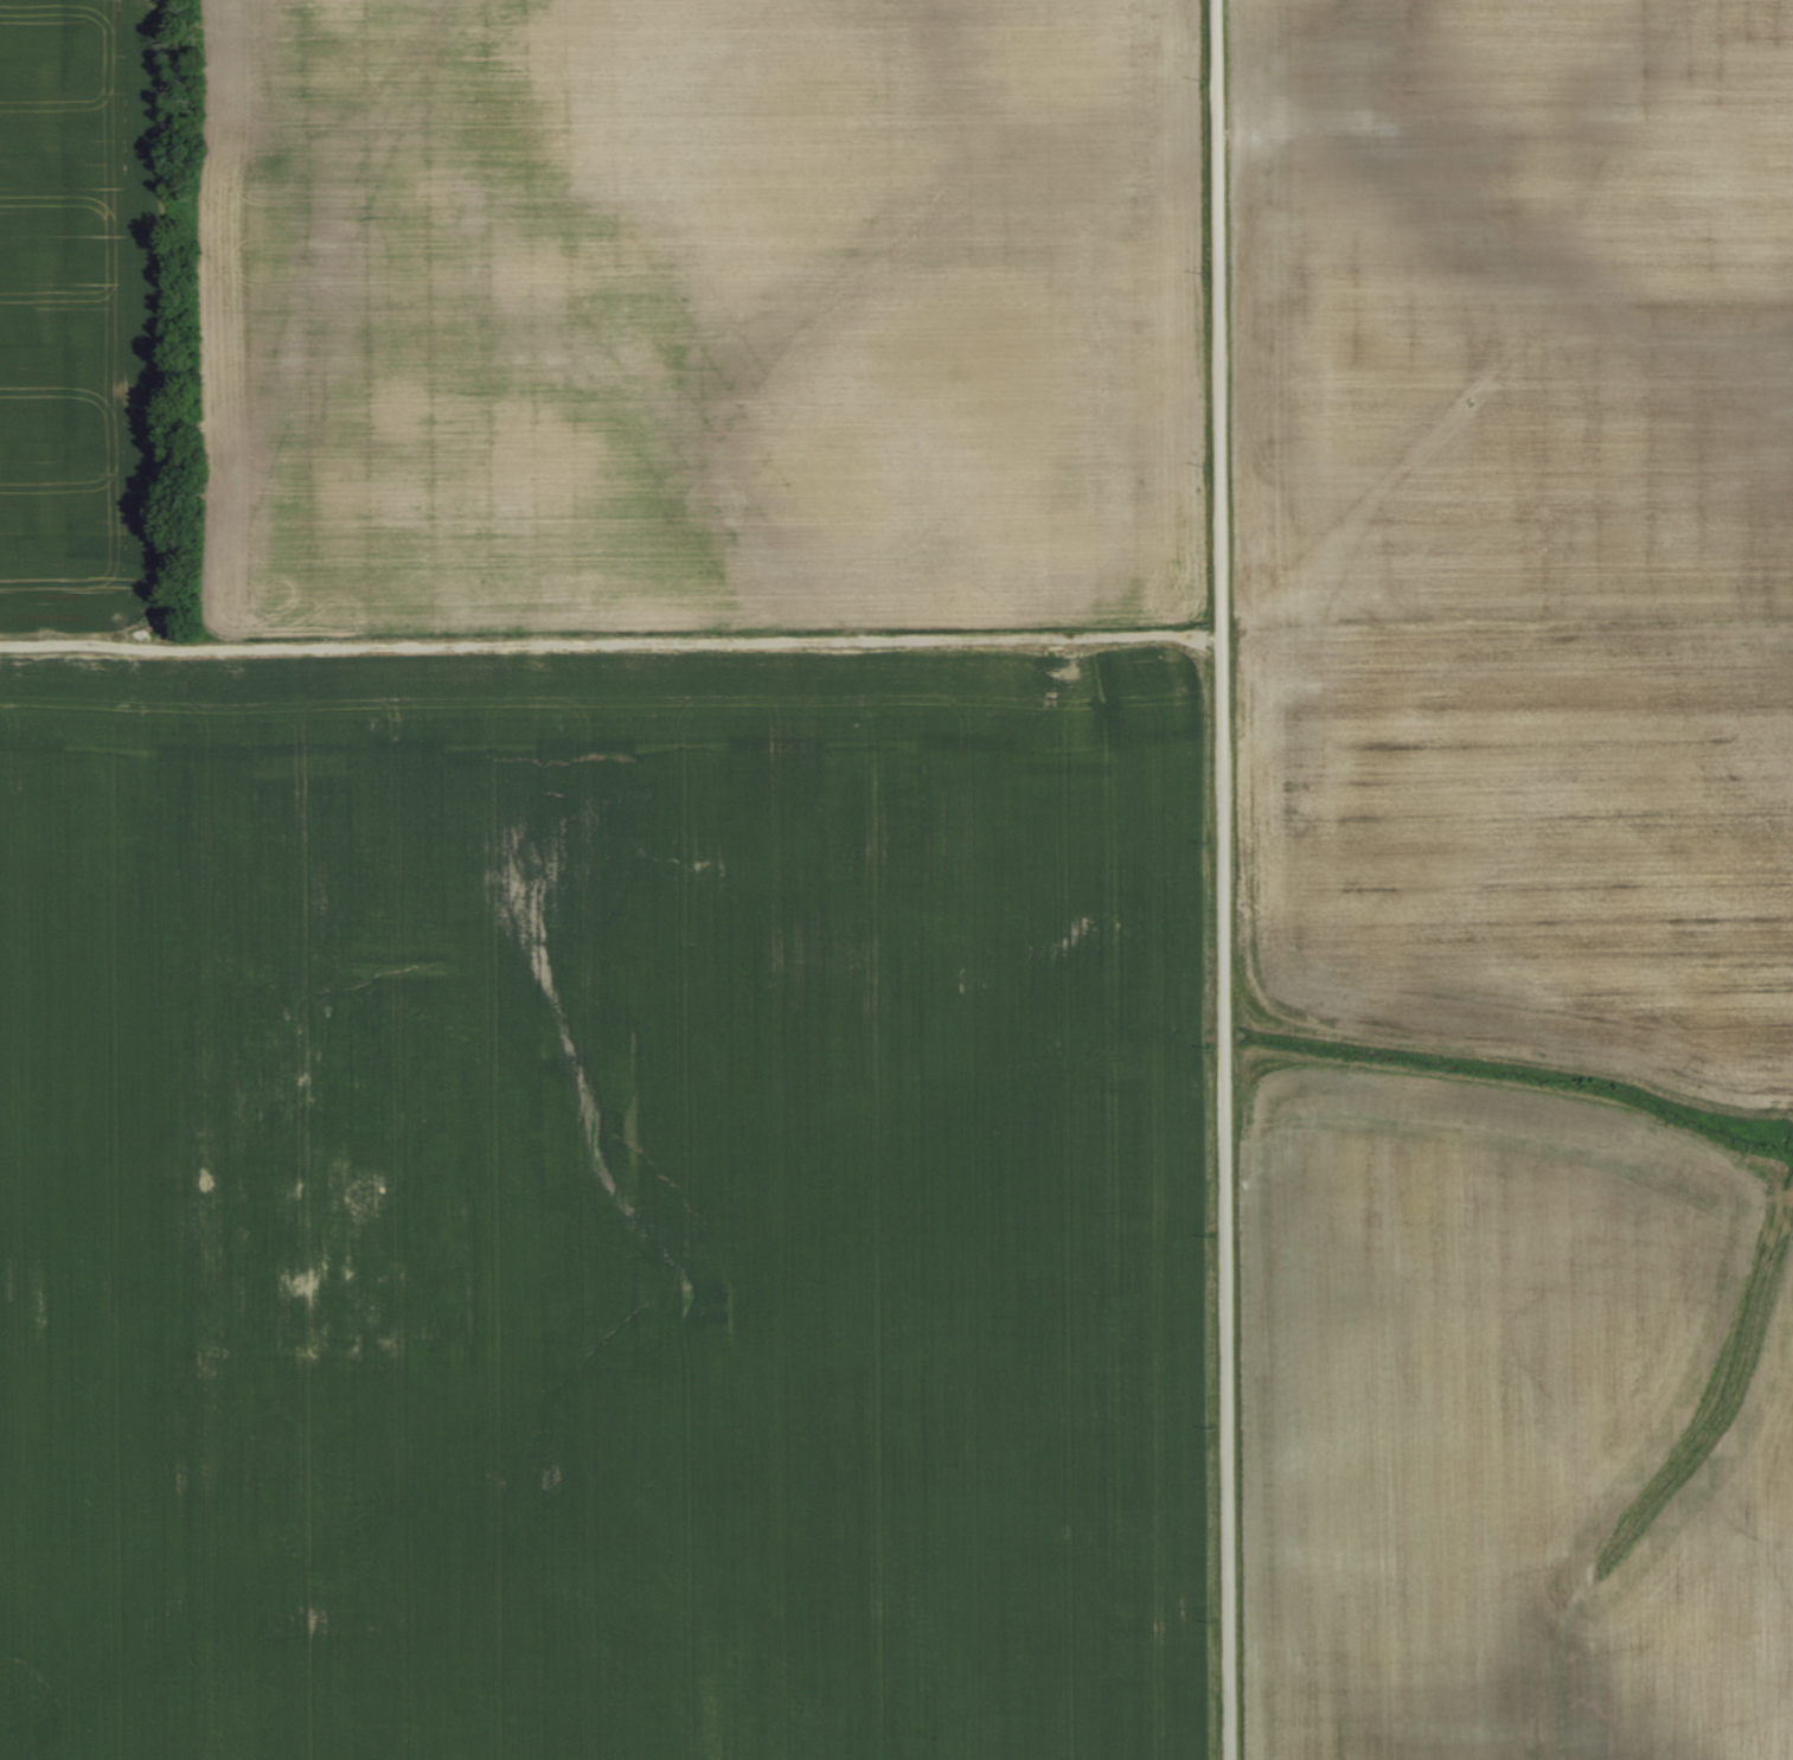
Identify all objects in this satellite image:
road: (1217, 879)

